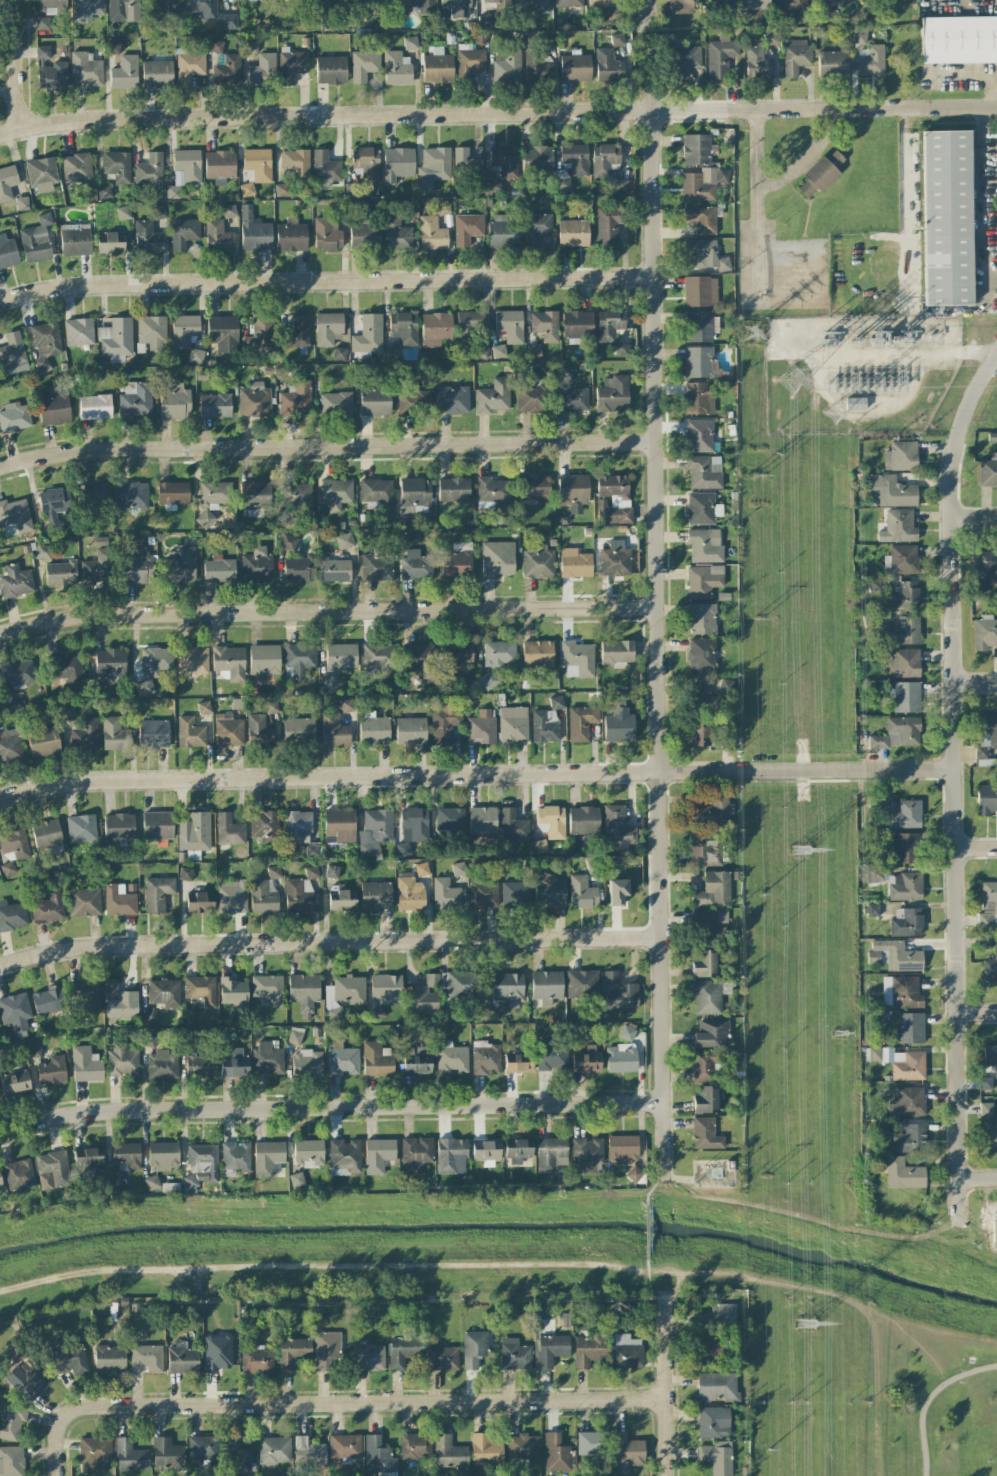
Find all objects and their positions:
building: (241, 0)
building: (376, 0)
building: (719, 1)
building: (831, 1)
road: (966, 1)
building: (568, 3)
building: (602, 3)
building: (754, 4)
building: (164, 5)
building: (501, 5)
building: (539, 5)
building: (791, 5)
building: (52, 6)
building: (426, 6)
building: (682, 6)
building: (399, 7)
building: (455, 8)
building: (86, 9)
building: (123, 10)
building: (208, 13)
building: (484, 20)
building: (42, 23)
building: (859, 36)
building: (770, 38)
building: (617, 39)
building: (958, 40)
building: (410, 42)
building: (251, 45)
building: (215, 46)
building: (720, 56)
building: (795, 57)
building: (685, 60)
building: (469, 61)
building: (871, 61)
building: (757, 63)
road: (13, 64)
building: (832, 64)
building: (363, 65)
building: (608, 65)
building: (189, 66)
building: (291, 66)
building: (437, 66)
building: (507, 66)
building: (262, 68)
building: (396, 68)
building: (537, 68)
building: (575, 68)
building: (85, 70)
building: (227, 70)
building: (330, 70)
building: (50, 71)
building: (124, 73)
building: (156, 74)
road: (497, 113)
building: (697, 149)
building: (575, 158)
road: (807, 158)
building: (536, 159)
building: (604, 159)
building: (504, 160)
building: (465, 161)
building: (296, 162)
building: (366, 162)
building: (219, 164)
building: (258, 164)
building: (397, 164)
building: (434, 165)
road: (906, 165)
building: (116, 166)
building: (76, 167)
building: (149, 170)
building: (184, 170)
building: (325, 170)
building: (819, 174)
building: (42, 175)
road: (754, 181)
building: (7, 182)
building: (702, 183)
building: (493, 184)
building: (563, 184)
building: (617, 185)
building: (248, 189)
building: (281, 189)
building: (351, 189)
building: (103, 192)
road: (984, 196)
building: (21, 203)
building: (442, 208)
building: (229, 211)
building: (122, 213)
building: (946, 218)
building: (701, 219)
building: (608, 225)
building: (535, 228)
building: (467, 229)
building: (253, 230)
building: (502, 231)
building: (183, 233)
building: (573, 233)
building: (326, 234)
building: (396, 234)
building: (432, 234)
building: (217, 236)
building: (291, 236)
building: (364, 236)
building: (147, 238)
building: (75, 239)
building: (36, 240)
building: (110, 242)
building: (7, 252)
building: (704, 255)
road: (325, 282)
building: (699, 290)
building: (577, 324)
building: (609, 324)
building: (469, 325)
building: (510, 325)
building: (545, 325)
building: (700, 326)
building: (328, 328)
building: (403, 328)
building: (435, 329)
building: (183, 330)
building: (263, 330)
building: (78, 332)
building: (151, 332)
building: (222, 333)
building: (295, 333)
power tower: (750, 333)
building: (368, 334)
building: (116, 337)
power tower: (854, 341)
power tower: (892, 342)
building: (45, 344)
building: (621, 349)
building: (498, 351)
building: (533, 351)
road: (880, 351)
building: (394, 352)
building: (479, 352)
building: (339, 353)
building: (12, 354)
building: (195, 356)
building: (699, 362)
power substation: (859, 372)
power tower: (791, 380)
building: (612, 394)
building: (493, 396)
building: (531, 398)
building: (135, 399)
building: (295, 399)
building: (571, 399)
building: (698, 399)
building: (453, 400)
building: (173, 401)
building: (254, 401)
building: (374, 401)
building: (413, 401)
building: (335, 403)
building: (857, 403)
road: (865, 403)
building: (214, 406)
building: (94, 407)
building: (53, 409)
power tower: (833, 413)
building: (14, 417)
building: (699, 435)
road: (326, 446)
building: (900, 456)
building: (704, 471)
power tower: (758, 471)
building: (988, 471)
building: (532, 487)
building: (453, 489)
building: (375, 490)
building: (414, 491)
building: (573, 491)
building: (890, 491)
building: (93, 493)
building: (172, 493)
building: (335, 493)
building: (493, 493)
building: (214, 494)
building: (255, 494)
building: (133, 495)
building: (295, 495)
building: (612, 499)
building: (53, 502)
building: (702, 508)
building: (14, 517)
road: (974, 517)
building: (205, 518)
building: (898, 527)
building: (344, 541)
building: (287, 542)
building: (704, 546)
building: (42, 552)
building: (496, 559)
building: (614, 559)
building: (903, 559)
building: (456, 561)
building: (538, 562)
building: (575, 563)
building: (185, 564)
building: (988, 564)
building: (415, 565)
building: (136, 567)
building: (256, 567)
building: (376, 567)
building: (96, 568)
building: (298, 569)
building: (334, 569)
building: (219, 570)
building: (61, 573)
building: (703, 580)
building: (15, 581)
building: (873, 585)
road: (655, 590)
building: (903, 595)
road: (326, 611)
power tower: (760, 615)
building: (701, 619)
building: (903, 631)
building: (984, 634)
building: (616, 653)
building: (457, 654)
building: (498, 654)
building: (537, 654)
building: (701, 654)
building: (418, 656)
building: (377, 657)
building: (578, 657)
building: (156, 659)
building: (263, 659)
building: (299, 659)
building: (192, 660)
building: (229, 662)
building: (338, 663)
building: (904, 663)
building: (110, 665)
building: (66, 669)
building: (17, 673)
building: (489, 680)
road: (975, 683)
building: (143, 687)
building: (701, 689)
building: (724, 689)
building: (906, 697)
building: (556, 702)
building: (346, 705)
building: (271, 706)
building: (203, 708)
building: (126, 709)
building: (67, 713)
building: (581, 722)
building: (444, 723)
building: (513, 725)
building: (545, 726)
building: (618, 727)
building: (481, 728)
building: (298, 729)
building: (372, 729)
building: (228, 731)
building: (410, 731)
building: (259, 732)
building: (334, 732)
building: (189, 733)
building: (897, 733)
building: (114, 734)
building: (153, 734)
building: (701, 735)
building: (84, 736)
building: (986, 737)
building: (727, 739)
building: (43, 741)
building: (10, 745)
road: (806, 770)
road: (328, 776)
road: (954, 786)
building: (986, 800)
building: (711, 812)
building: (905, 815)
building: (450, 819)
building: (482, 820)
building: (552, 820)
building: (583, 820)
building: (414, 824)
building: (118, 825)
building: (157, 825)
building: (339, 825)
building: (264, 826)
building: (513, 826)
building: (297, 827)
building: (617, 827)
building: (81, 828)
building: (228, 830)
building: (196, 833)
building: (374, 833)
building: (46, 834)
building: (14, 845)
building: (540, 846)
road: (976, 847)
building: (906, 848)
building: (402, 849)
building: (706, 849)
power tower: (799, 850)
building: (311, 851)
building: (192, 855)
building: (592, 864)
building: (7, 868)
building: (458, 868)
building: (421, 869)
building: (273, 872)
building: (311, 872)
building: (332, 872)
building: (185, 874)
building: (873, 874)
building: (904, 886)
building: (713, 889)
building: (550, 890)
building: (616, 891)
building: (582, 892)
building: (157, 893)
building: (409, 894)
building: (445, 894)
building: (483, 894)
building: (375, 895)
building: (515, 895)
power tower: (762, 895)
building: (232, 896)
building: (298, 896)
building: (262, 897)
building: (341, 900)
building: (118, 901)
building: (84, 902)
building: (201, 902)
building: (48, 907)
building: (988, 907)
building: (872, 910)
building: (12, 916)
building: (715, 919)
building: (906, 922)
road: (329, 941)
building: (983, 942)
building: (895, 955)
building: (704, 964)
building: (994, 964)
building: (609, 976)
building: (457, 983)
building: (582, 984)
building: (110, 985)
building: (546, 986)
building: (507, 987)
building: (268, 988)
building: (200, 989)
building: (386, 989)
building: (346, 990)
building: (886, 991)
building: (164, 992)
building: (233, 992)
building: (304, 992)
building: (905, 992)
building: (622, 997)
building: (707, 998)
building: (420, 999)
building: (46, 1001)
building: (122, 1005)
building: (15, 1011)
road: (977, 1014)
building: (910, 1028)
building: (626, 1033)
building: (711, 1033)
power tower: (833, 1033)
building: (294, 1036)
building: (33, 1050)
building: (874, 1054)
building: (551, 1056)
building: (451, 1057)
building: (990, 1057)
building: (267, 1058)
building: (342, 1059)
building: (376, 1059)
building: (416, 1060)
building: (486, 1060)
building: (586, 1060)
building: (620, 1060)
building: (122, 1061)
building: (307, 1063)
building: (85, 1064)
building: (161, 1064)
building: (234, 1064)
building: (516, 1064)
building: (907, 1065)
building: (198, 1066)
building: (51, 1071)
building: (14, 1082)
building: (985, 1083)
building: (705, 1100)
building: (907, 1102)
road: (330, 1107)
building: (985, 1108)
building: (992, 1130)
building: (705, 1134)
building: (910, 1139)
building: (486, 1149)
building: (622, 1149)
building: (518, 1150)
building: (416, 1151)
building: (126, 1154)
building: (551, 1154)
building: (345, 1155)
building: (379, 1155)
building: (587, 1155)
building: (451, 1156)
building: (235, 1158)
building: (267, 1158)
building: (86, 1160)
building: (200, 1166)
building: (52, 1170)
building: (18, 1174)
building: (634, 1174)
building: (903, 1174)
power tower: (766, 1176)
road: (977, 1177)
building: (296, 1179)
road: (682, 1179)
building: (0, 1184)
road: (651, 1189)
road: (647, 1232)
road: (420, 1263)
building: (717, 1318)
power tower: (804, 1325)
road: (651, 1330)
building: (474, 1348)
building: (550, 1349)
building: (710, 1349)
building: (326, 1350)
building: (588, 1350)
building: (403, 1351)
building: (217, 1352)
building: (292, 1352)
building: (627, 1352)
building: (368, 1357)
building: (109, 1358)
building: (146, 1358)
building: (442, 1358)
building: (181, 1359)
building: (256, 1360)
building: (70, 1361)
building: (26, 1381)
road: (665, 1382)
building: (716, 1387)
road: (927, 1399)
park: (929, 1399)
road: (332, 1403)
building: (11, 1421)
building: (713, 1422)
building: (592, 1443)
building: (345, 1446)
building: (415, 1446)
building: (203, 1447)
building: (522, 1447)
power tower: (769, 1448)
building: (94, 1449)
building: (486, 1449)
building: (274, 1450)
building: (449, 1452)
building: (626, 1452)
building: (308, 1453)
building: (556, 1453)
building: (166, 1454)
building: (130, 1456)
building: (378, 1456)
building: (238, 1457)
building: (717, 1457)
building: (11, 1461)

